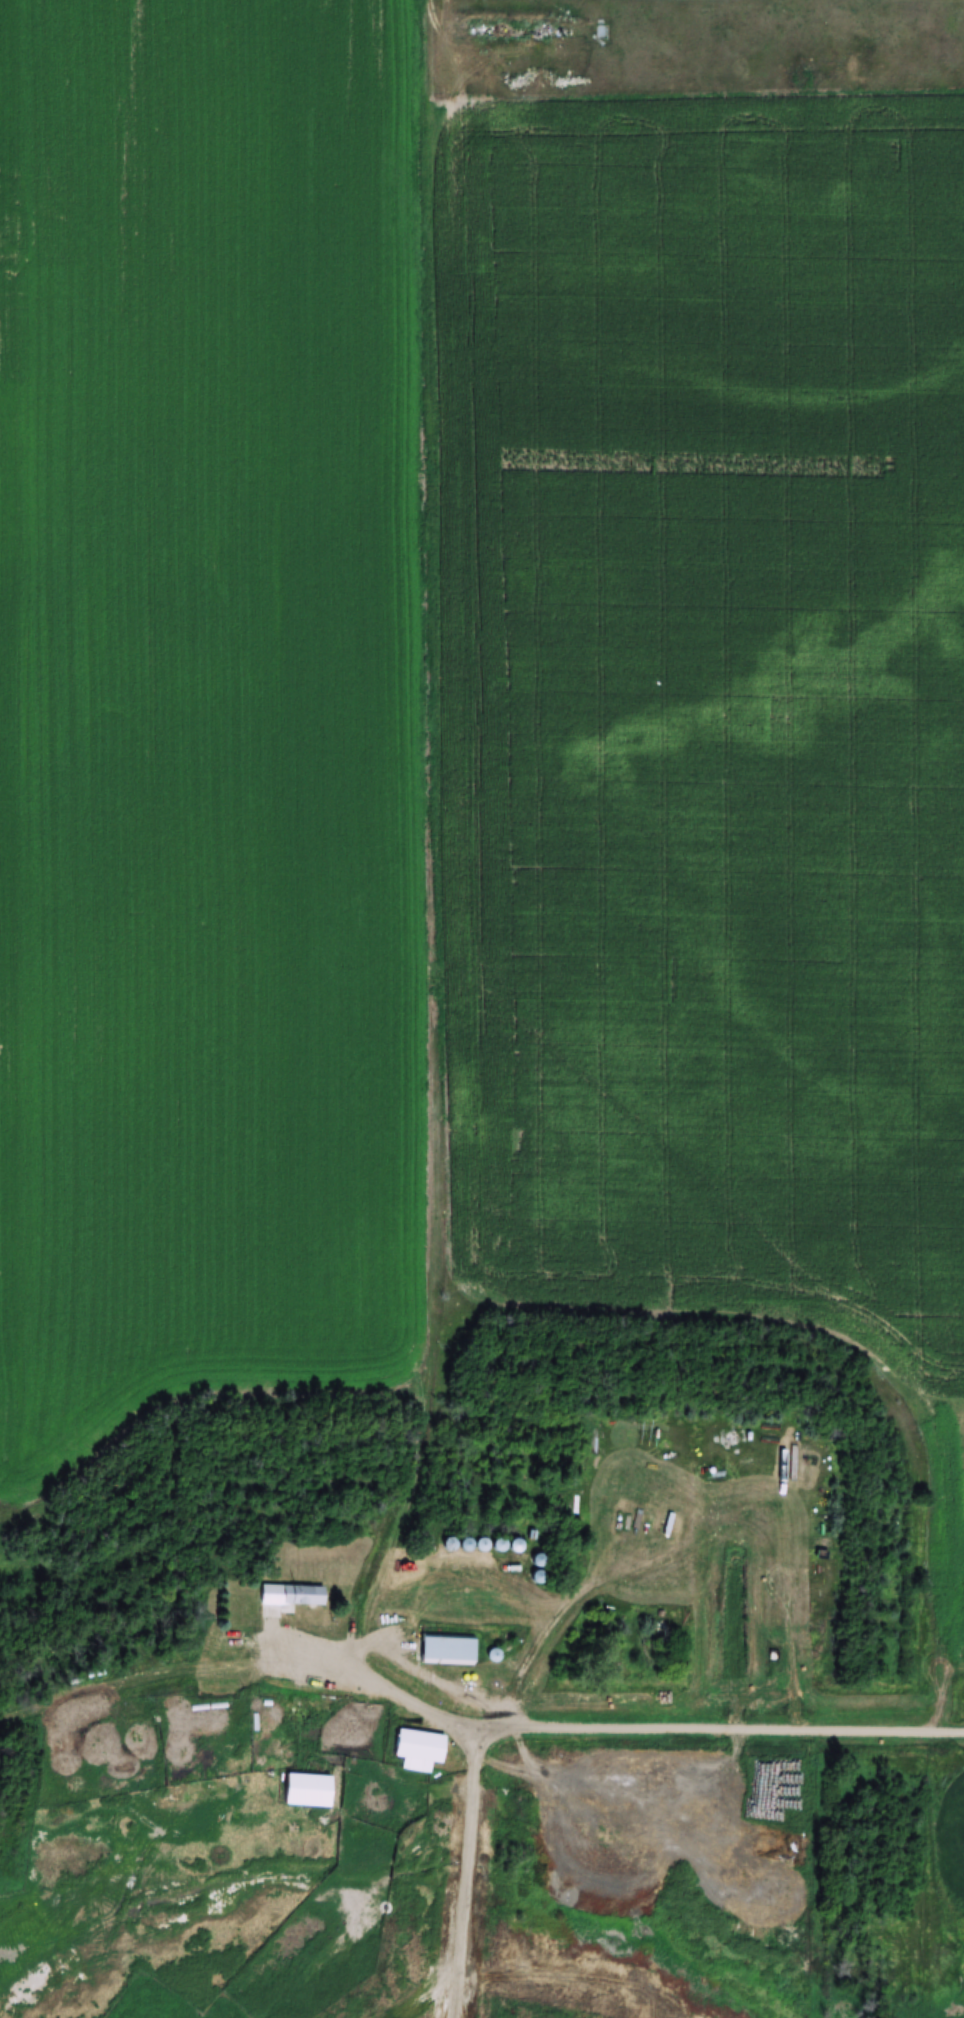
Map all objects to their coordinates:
road: (454, 42)
building: (291, 1595)
building: (447, 1650)
building: (224, 1676)
building: (300, 1710)
road: (575, 1728)
building: (418, 1747)
building: (308, 1787)
building: (502, 2011)

